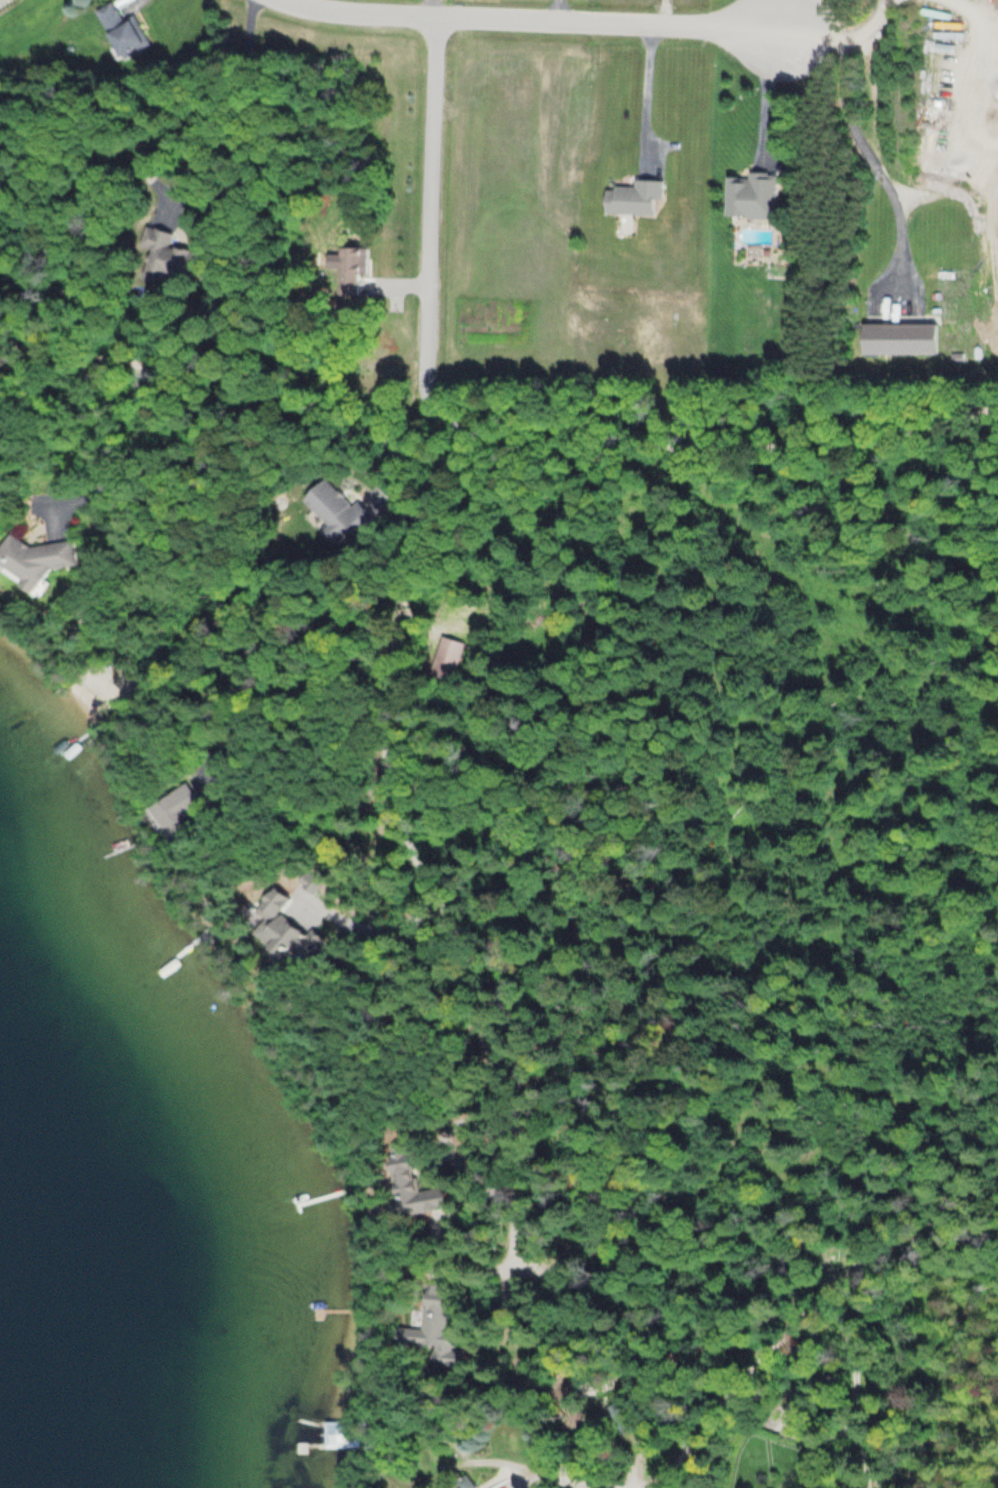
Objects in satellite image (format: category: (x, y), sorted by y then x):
road: (532, 18)
building: (121, 31)
quarry: (958, 121)
building: (752, 196)
building: (634, 199)
road: (424, 248)
building: (157, 255)
building: (354, 268)
road: (492, 463)
building: (338, 510)
building: (33, 558)
building: (448, 658)
building: (177, 812)
road: (414, 875)
building: (288, 930)
building: (411, 1179)
road: (807, 1303)
pier: (310, 1417)
building: (338, 1430)
pier: (311, 1440)
road: (577, 1477)
building: (463, 1483)
road: (644, 1483)
building: (445, 1487)

